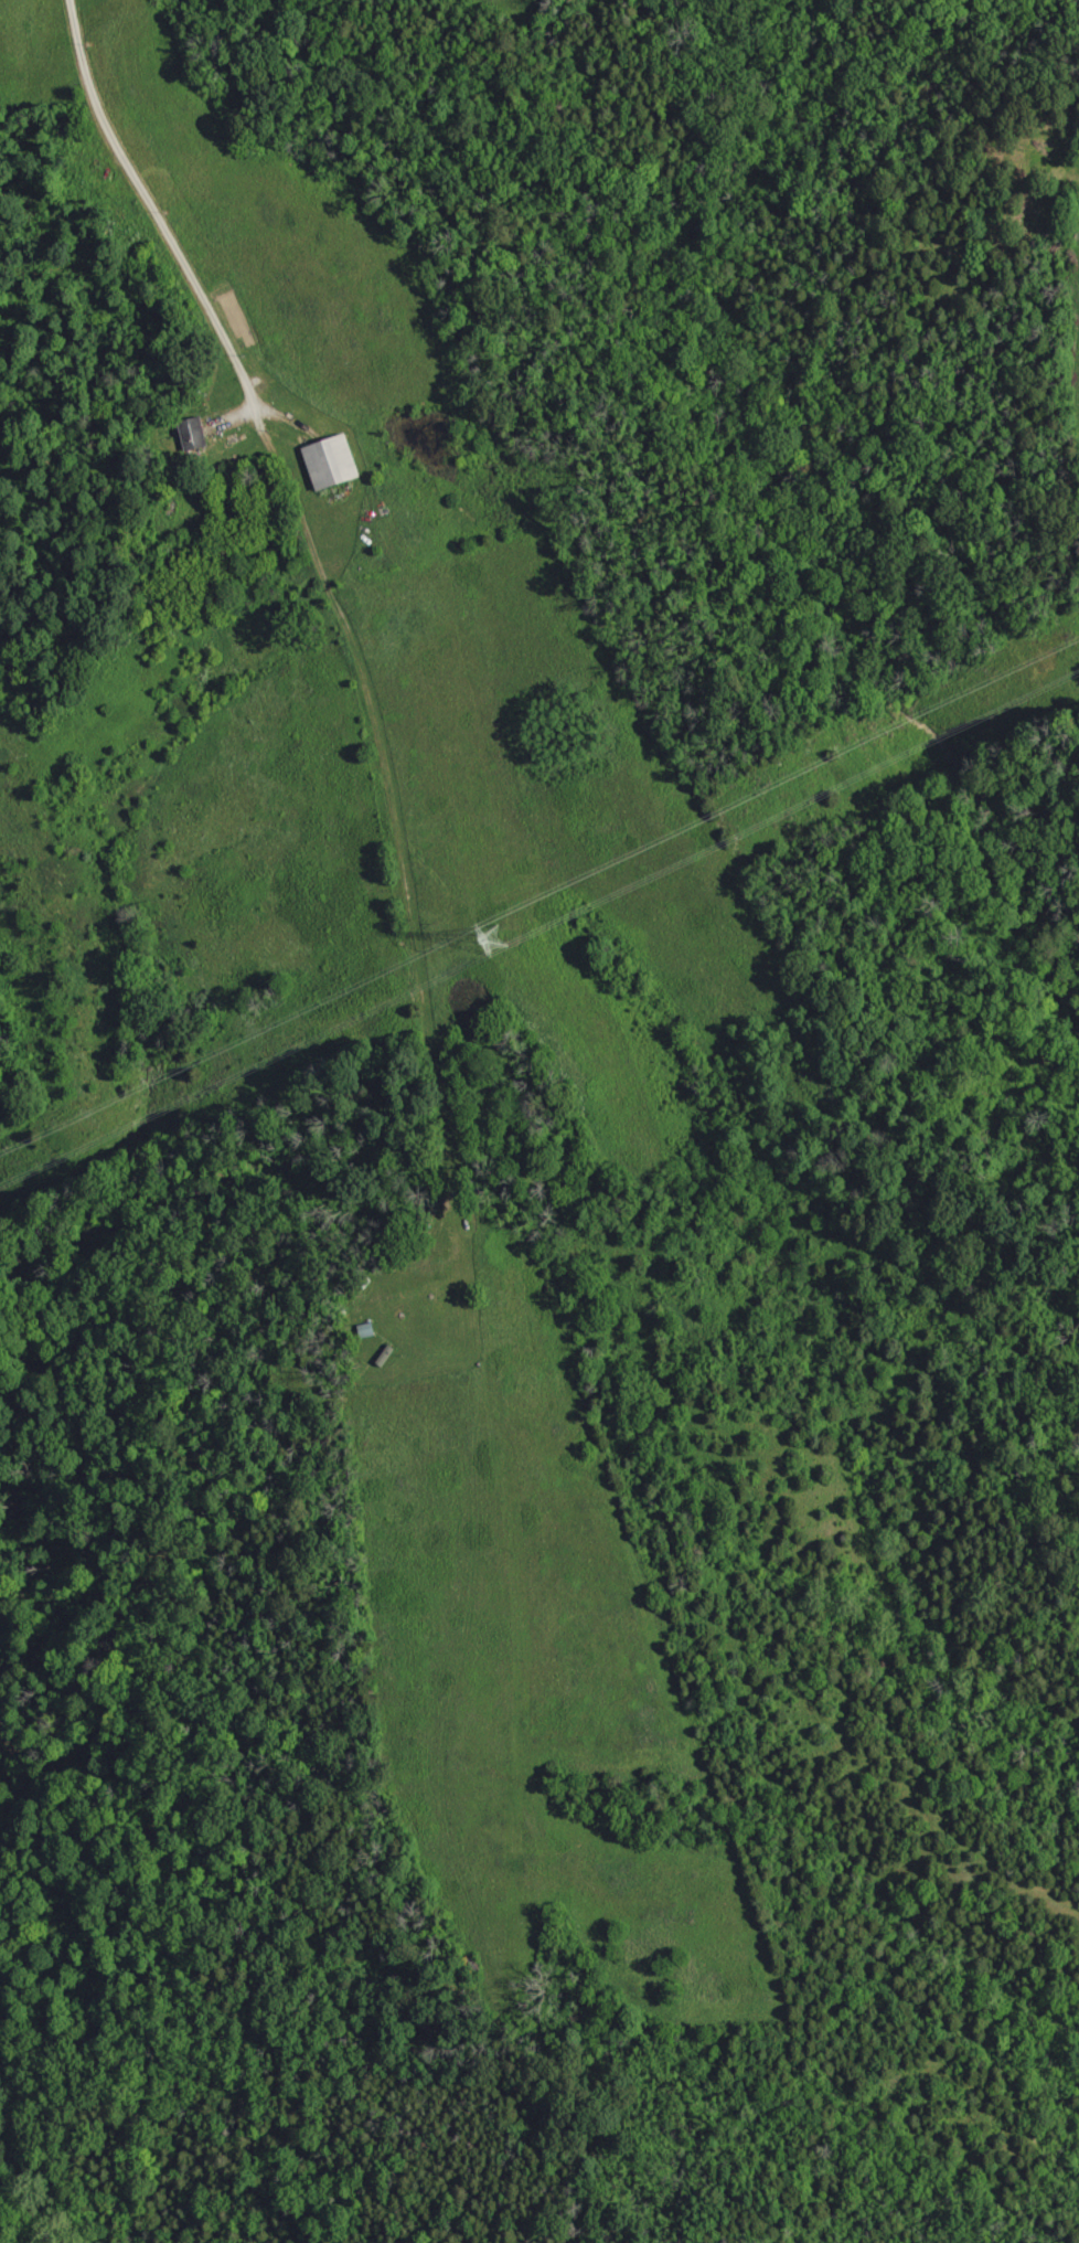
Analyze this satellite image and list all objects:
road: (157, 224)
building: (195, 436)
building: (332, 463)
power tower: (491, 936)

